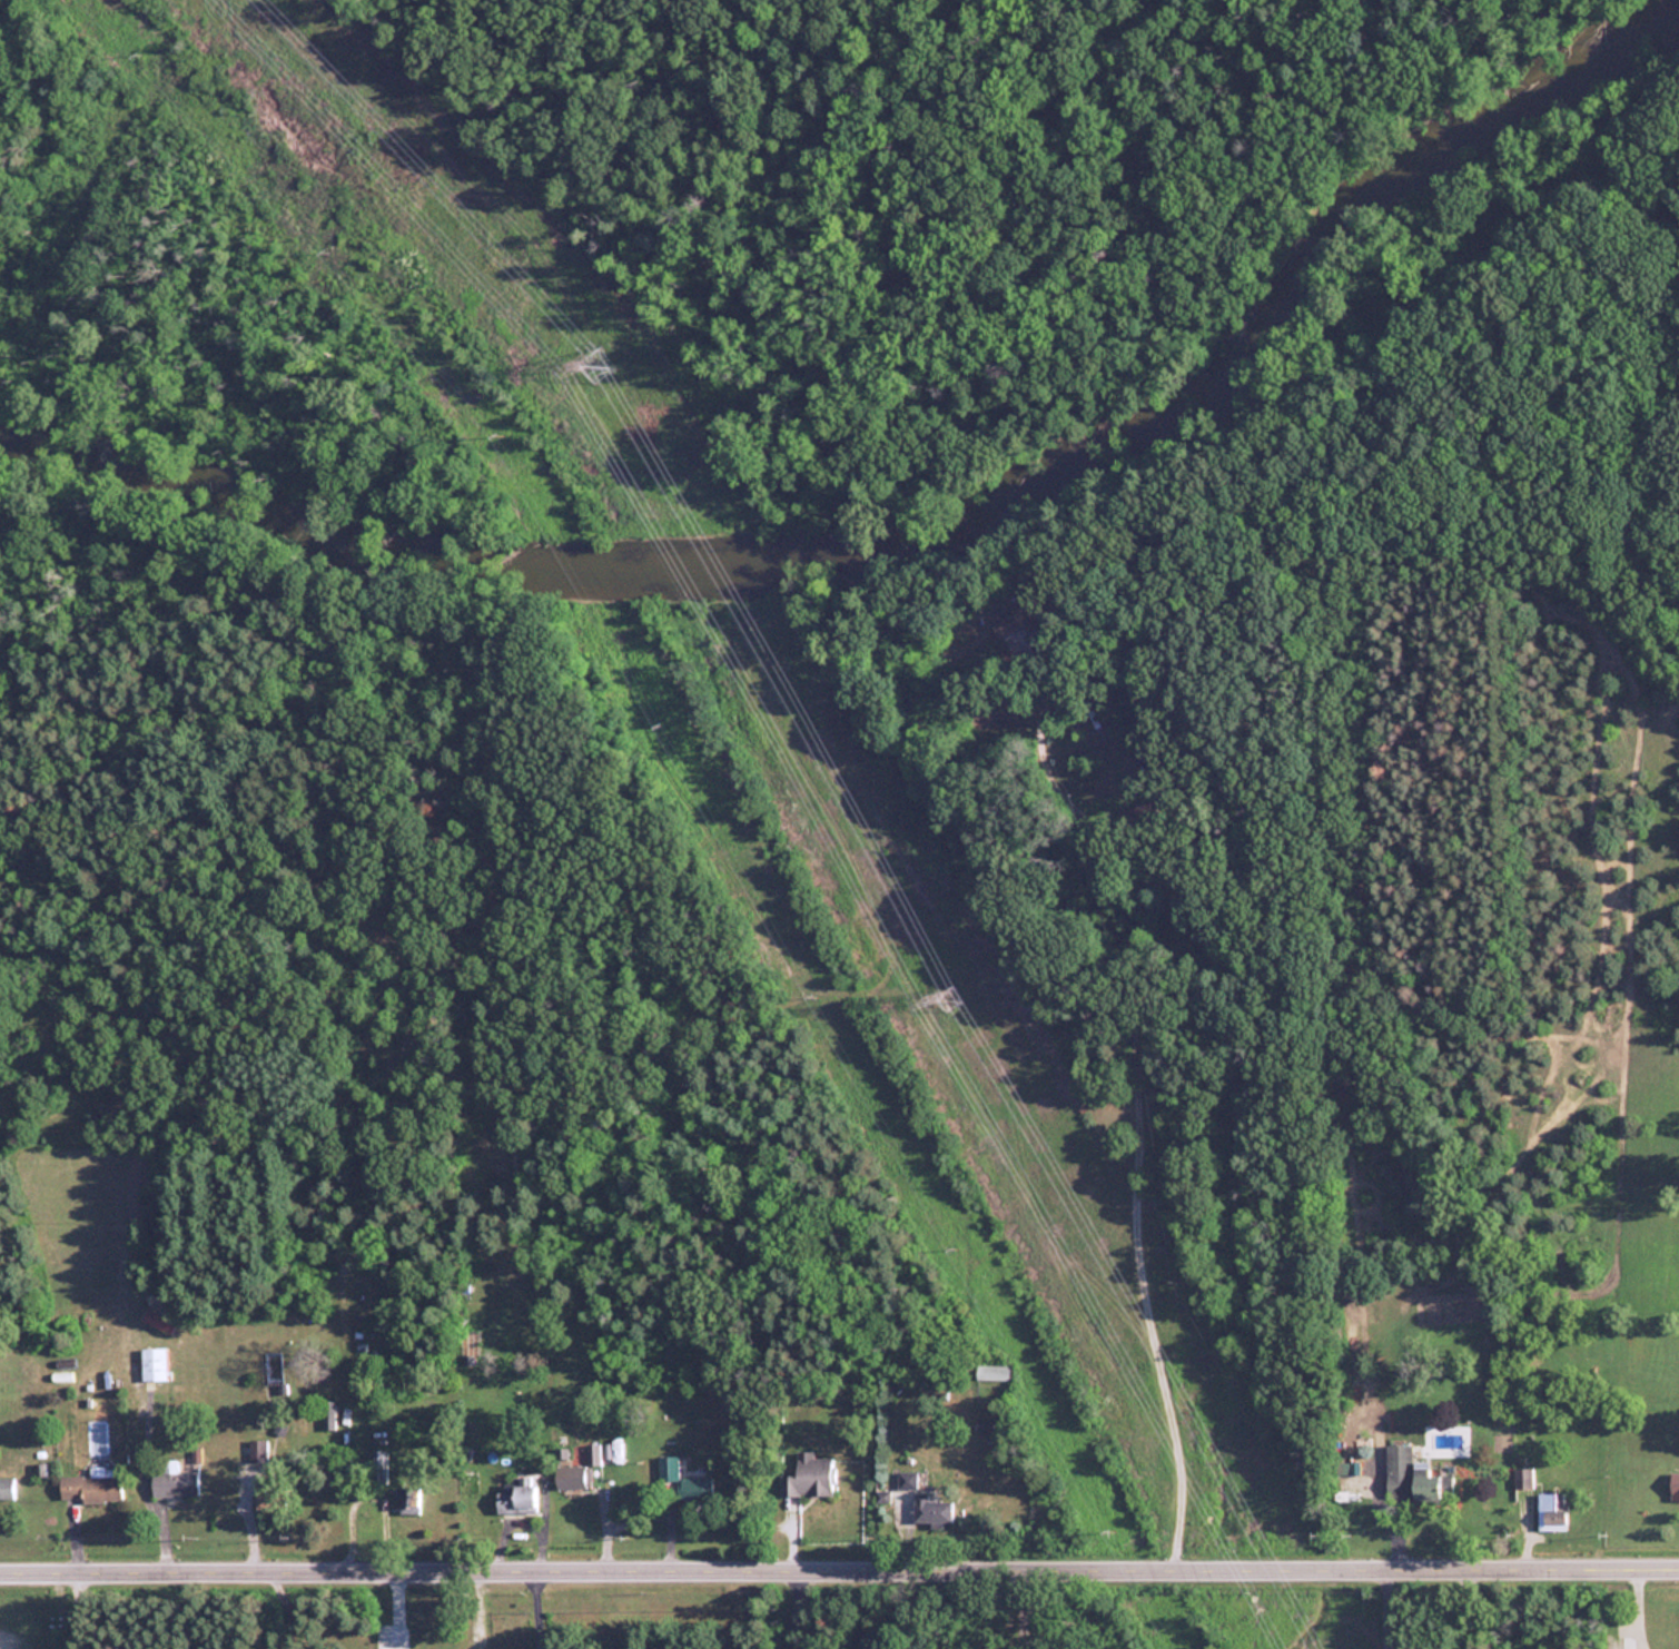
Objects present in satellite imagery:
power tower: (601, 367)
river: (920, 516)
building: (1021, 620)
power tower: (954, 998)
road: (1133, 1036)
building: (162, 1323)
building: (156, 1365)
building: (994, 1373)
building: (327, 1415)
building: (984, 1426)
building: (259, 1452)
building: (594, 1455)
building: (379, 1461)
building: (669, 1470)
building: (573, 1478)
building: (813, 1479)
building: (1415, 1480)
building: (910, 1481)
road: (141, 1483)
building: (177, 1483)
building: (95, 1488)
building: (1676, 1488)
building: (8, 1491)
building: (691, 1492)
building: (271, 1498)
road: (364, 1498)
building: (521, 1502)
building: (411, 1503)
building: (1559, 1511)
building: (937, 1512)
road: (516, 1521)
road: (839, 1564)
road: (792, 1606)
road: (1383, 1606)
road: (1465, 1606)
road: (283, 1607)
road: (532, 1607)
road: (1021, 1607)
road: (76, 1608)

